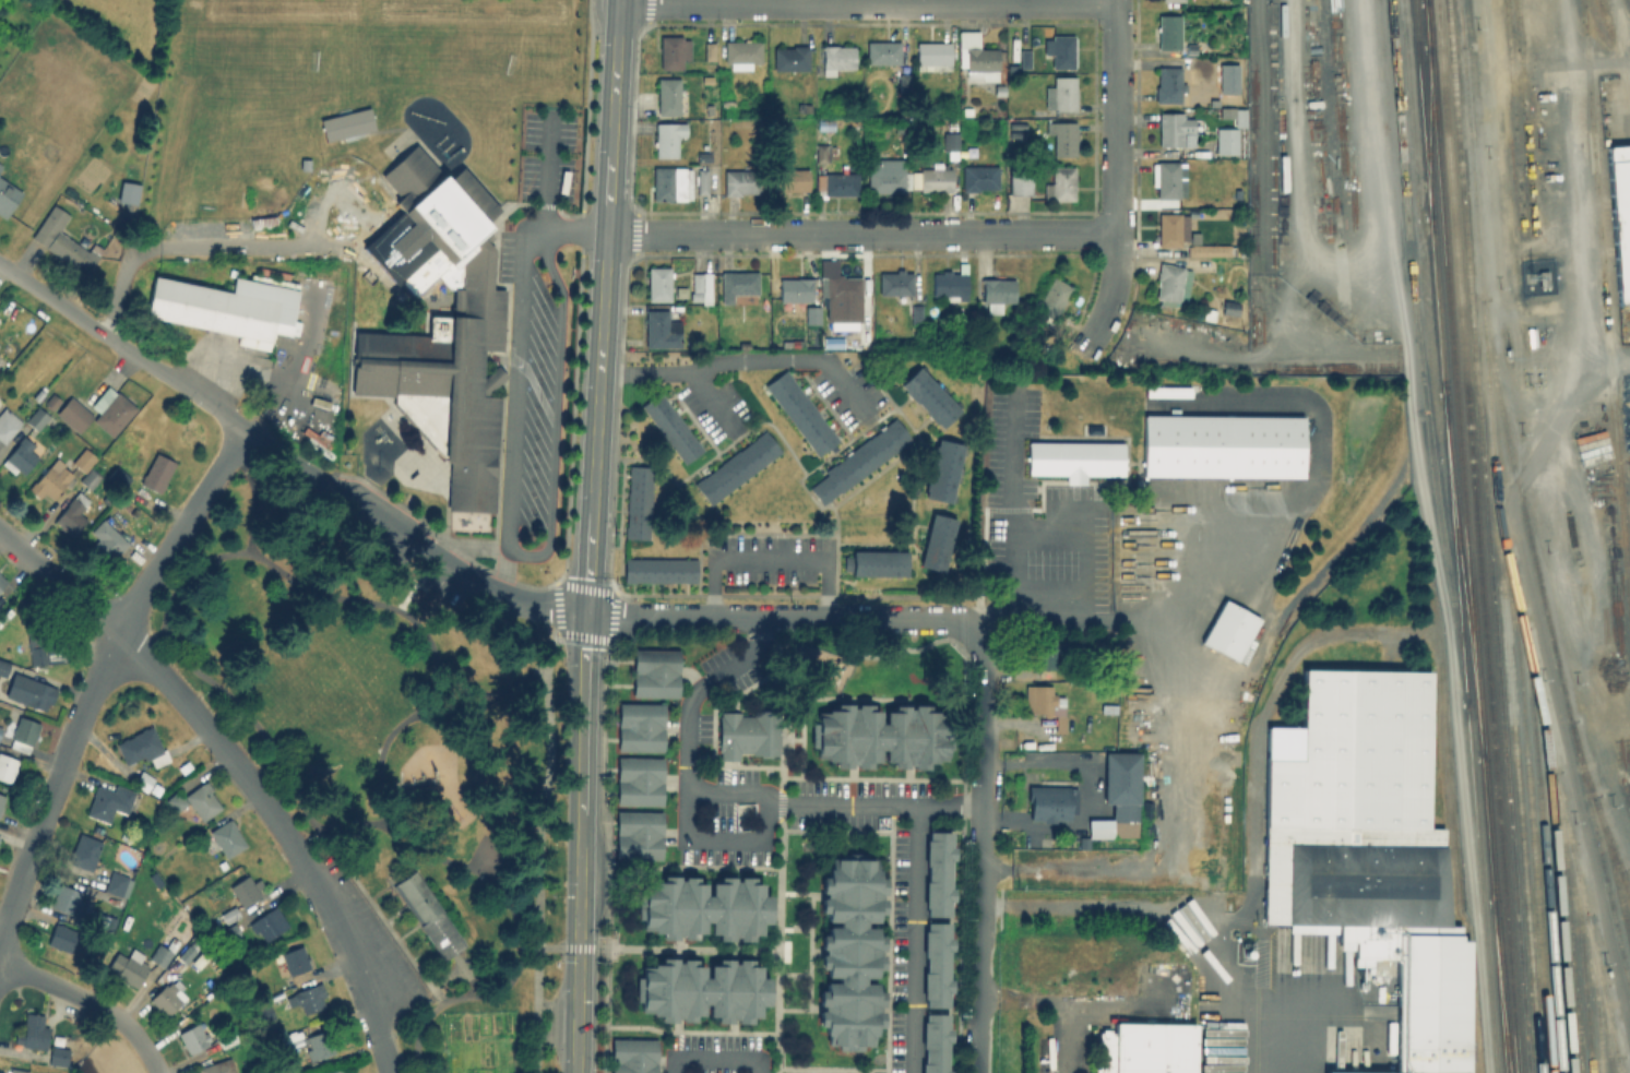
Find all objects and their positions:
building: (1171, 0)
road: (619, 1)
railway: (1425, 1)
railway: (1425, 1)
road: (867, 2)
railway: (1458, 21)
building: (1168, 32)
building: (1190, 48)
building: (709, 49)
building: (1061, 49)
building: (673, 50)
building: (741, 50)
building: (883, 51)
building: (932, 55)
building: (978, 56)
building: (790, 57)
building: (836, 57)
building: (1024, 57)
railway: (1619, 64)
park: (304, 67)
building: (1228, 79)
building: (903, 81)
building: (1168, 83)
building: (999, 88)
building: (1061, 93)
building: (668, 95)
building: (727, 102)
building: (1213, 103)
building: (804, 107)
building: (1227, 112)
building: (1239, 118)
railway: (1525, 118)
railway: (1513, 119)
building: (345, 123)
building: (824, 123)
building: (900, 126)
building: (1175, 129)
railway: (1429, 130)
road: (1260, 131)
building: (667, 136)
building: (1064, 138)
building: (1226, 141)
building: (950, 143)
road: (1377, 145)
building: (822, 152)
building: (703, 156)
parking lot: (546, 157)
building: (0, 164)
building: (305, 167)
building: (1282, 170)
road: (545, 171)
road: (1293, 172)
building: (887, 175)
road: (1115, 175)
building: (937, 177)
building: (979, 178)
building: (1168, 178)
building: (790, 179)
building: (702, 180)
building: (741, 180)
building: (1020, 180)
building: (671, 182)
building: (836, 183)
building: (1060, 183)
building: (347, 191)
building: (127, 192)
building: (7, 195)
building: (1620, 215)
building: (1171, 228)
road: (860, 233)
building: (61, 240)
road: (202, 249)
building: (1212, 249)
building: (1544, 277)
building: (895, 282)
building: (658, 283)
building: (737, 283)
building: (951, 283)
building: (1171, 283)
building: (700, 287)
building: (795, 288)
building: (997, 291)
building: (841, 295)
building: (1054, 296)
building: (229, 306)
building: (1229, 307)
road: (602, 309)
building: (812, 313)
building: (917, 313)
building: (1209, 313)
railway: (1604, 313)
building: (478, 314)
building: (661, 329)
building: (1531, 336)
road: (124, 345)
road: (741, 360)
road: (298, 370)
parking lot: (532, 378)
building: (1166, 391)
building: (1002, 394)
building: (929, 395)
building: (51, 401)
road: (304, 402)
building: (115, 409)
building: (800, 412)
building: (37, 417)
building: (8, 424)
building: (671, 427)
building: (1223, 444)
railway: (1459, 451)
building: (20, 455)
road: (290, 455)
building: (1075, 458)
building: (84, 460)
building: (859, 460)
road: (1011, 465)
building: (736, 466)
building: (944, 469)
building: (157, 472)
building: (118, 476)
building: (90, 477)
building: (50, 479)
building: (638, 501)
building: (72, 515)
road: (505, 534)
railway: (1454, 536)
railway: (1476, 536)
railway: (1489, 536)
railway: (1497, 536)
road: (1343, 537)
building: (106, 541)
building: (937, 541)
road: (768, 559)
building: (876, 562)
road: (1083, 563)
road: (450, 565)
building: (659, 570)
railway: (1463, 574)
road: (287, 579)
building: (2, 580)
traffic signals: (587, 580)
road: (778, 618)
building: (1229, 630)
building: (46, 644)
traffic signals: (584, 648)
building: (1048, 652)
railway: (1555, 652)
building: (3, 667)
building: (656, 672)
road: (97, 677)
building: (29, 691)
building: (1046, 704)
road: (582, 706)
building: (1108, 707)
road: (425, 708)
road: (253, 722)
building: (641, 726)
building: (0, 727)
road: (1260, 728)
building: (24, 734)
building: (748, 734)
building: (880, 736)
building: (142, 747)
park: (391, 750)
building: (7, 767)
road: (237, 771)
building: (144, 778)
railway: (1555, 779)
building: (640, 780)
road: (1176, 786)
road: (1088, 794)
building: (1118, 798)
building: (1, 799)
building: (202, 800)
building: (111, 801)
building: (176, 801)
road: (872, 802)
building: (1051, 802)
railway: (1597, 808)
road: (687, 809)
railway: (1531, 815)
building: (640, 835)
road: (538, 836)
building: (227, 837)
building: (1370, 849)
railway: (1543, 849)
road: (978, 850)
building: (84, 851)
railway: (1613, 873)
building: (929, 879)
building: (117, 884)
railway: (1626, 886)
railway: (1557, 887)
building: (246, 890)
road: (504, 894)
building: (67, 899)
traffic signals: (579, 901)
road: (1165, 913)
building: (230, 915)
building: (428, 915)
building: (691, 917)
road: (578, 920)
railway: (1570, 922)
building: (266, 925)
building: (229, 932)
parking lot: (374, 932)
building: (62, 938)
road: (902, 938)
building: (164, 950)
building: (186, 953)
road: (654, 956)
railway: (1581, 958)
building: (296, 961)
building: (838, 962)
building: (129, 967)
building: (927, 970)
railway: (1500, 986)
railway: (1502, 986)
railway: (1596, 994)
building: (691, 995)
building: (308, 998)
road: (1022, 998)
building: (166, 999)
traffic signals: (578, 1000)
road: (88, 1003)
road: (1080, 1004)
building: (262, 1014)
building: (33, 1032)
railway: (1608, 1033)
building: (192, 1038)
building: (226, 1038)
building: (317, 1046)
building: (926, 1046)
building: (1144, 1048)
building: (58, 1056)
building: (634, 1056)
road: (575, 1059)
road: (1282, 1061)
road: (702, 1062)
building: (217, 1066)
railway: (1617, 1066)
building: (17, 1071)
building: (337, 1072)
building: (1341, 1072)

